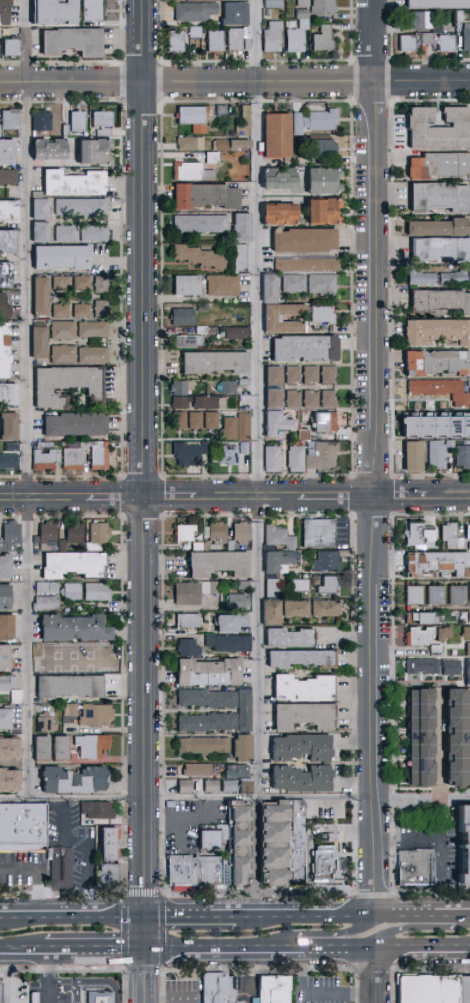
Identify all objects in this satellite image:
building: (271, 3)
building: (302, 3)
building: (435, 4)
building: (322, 6)
building: (90, 10)
building: (193, 11)
building: (2, 12)
building: (49, 12)
building: (233, 13)
building: (427, 30)
building: (296, 32)
building: (271, 36)
building: (465, 37)
building: (321, 38)
building: (233, 39)
building: (173, 40)
building: (214, 40)
building: (69, 41)
building: (405, 42)
building: (10, 46)
road: (234, 83)
building: (100, 116)
building: (190, 116)
building: (7, 117)
building: (39, 119)
building: (75, 119)
building: (312, 119)
building: (242, 120)
building: (435, 126)
building: (274, 133)
building: (188, 141)
building: (230, 143)
building: (46, 147)
building: (321, 147)
building: (90, 149)
building: (4, 150)
building: (437, 163)
building: (191, 170)
building: (7, 174)
building: (276, 176)
building: (320, 179)
building: (70, 181)
building: (204, 194)
building: (439, 195)
building: (79, 205)
building: (37, 207)
building: (7, 208)
building: (320, 208)
building: (275, 212)
building: (199, 222)
building: (239, 225)
building: (436, 225)
building: (37, 230)
building: (64, 232)
building: (92, 232)
road: (144, 236)
building: (6, 238)
building: (301, 239)
building: (438, 247)
building: (58, 255)
building: (201, 256)
building: (238, 256)
building: (305, 264)
building: (4, 273)
building: (468, 274)
building: (451, 275)
building: (419, 277)
building: (59, 281)
building: (78, 281)
building: (99, 282)
building: (292, 282)
building: (184, 283)
building: (221, 283)
building: (320, 283)
building: (267, 286)
building: (38, 294)
building: (440, 298)
building: (2, 306)
building: (99, 306)
building: (79, 308)
building: (59, 309)
building: (321, 313)
building: (180, 315)
building: (270, 316)
building: (61, 328)
building: (91, 328)
building: (436, 329)
building: (235, 331)
building: (36, 340)
building: (186, 340)
building: (303, 346)
building: (2, 348)
building: (61, 352)
building: (91, 354)
building: (212, 360)
building: (435, 360)
building: (291, 373)
building: (318, 373)
building: (271, 374)
building: (64, 383)
building: (180, 386)
building: (439, 389)
building: (6, 392)
building: (469, 393)
building: (271, 397)
building: (326, 397)
building: (291, 398)
building: (309, 398)
road: (261, 399)
road: (376, 399)
road: (26, 400)
building: (180, 401)
building: (205, 401)
building: (186, 419)
building: (209, 419)
building: (323, 420)
building: (274, 421)
building: (72, 422)
building: (435, 424)
building: (7, 425)
building: (242, 425)
building: (228, 427)
building: (242, 446)
building: (185, 452)
building: (435, 453)
building: (96, 454)
building: (227, 454)
building: (320, 454)
building: (410, 454)
building: (9, 455)
building: (462, 455)
building: (270, 457)
building: (294, 457)
building: (55, 458)
road: (317, 497)
road: (59, 498)
road: (119, 502)
building: (240, 529)
building: (467, 530)
building: (72, 531)
building: (97, 531)
building: (183, 531)
building: (317, 531)
building: (417, 532)
building: (44, 533)
building: (447, 533)
building: (8, 535)
building: (277, 535)
building: (275, 559)
building: (325, 560)
building: (436, 561)
building: (216, 562)
building: (4, 563)
building: (71, 563)
building: (328, 583)
building: (298, 584)
building: (45, 586)
building: (69, 590)
building: (94, 590)
building: (469, 590)
building: (185, 592)
building: (413, 593)
building: (434, 593)
building: (456, 593)
building: (3, 595)
building: (236, 600)
building: (43, 601)
building: (295, 607)
building: (323, 607)
building: (269, 611)
building: (418, 616)
building: (239, 618)
building: (185, 619)
building: (222, 622)
building: (5, 626)
building: (71, 627)
building: (465, 632)
building: (419, 635)
building: (287, 636)
building: (226, 641)
building: (185, 646)
building: (467, 647)
building: (93, 654)
building: (3, 656)
building: (298, 657)
road: (145, 658)
building: (421, 664)
building: (450, 666)
building: (466, 670)
building: (205, 671)
building: (3, 682)
building: (67, 685)
building: (299, 687)
building: (205, 697)
building: (243, 708)
building: (94, 713)
building: (301, 714)
building: (3, 716)
building: (205, 721)
building: (42, 723)
building: (417, 735)
building: (455, 736)
building: (89, 744)
building: (202, 744)
road: (442, 745)
building: (38, 746)
building: (57, 746)
building: (240, 746)
building: (299, 746)
building: (7, 747)
building: (194, 768)
building: (235, 770)
building: (298, 777)
building: (6, 778)
building: (71, 778)
building: (182, 785)
building: (209, 785)
building: (227, 785)
building: (242, 785)
road: (423, 796)
road: (74, 799)
road: (262, 799)
building: (94, 808)
road: (148, 810)
building: (234, 810)
road: (192, 821)
building: (23, 827)
building: (235, 832)
building: (210, 840)
building: (279, 840)
road: (444, 841)
building: (465, 845)
building: (109, 846)
road: (87, 851)
road: (377, 856)
building: (235, 864)
building: (323, 864)
building: (183, 866)
building: (63, 868)
road: (150, 869)
building: (416, 869)
building: (210, 873)
road: (38, 874)
building: (109, 875)
road: (352, 914)
road: (193, 917)
road: (44, 918)
road: (119, 918)
road: (7, 923)
road: (420, 928)
road: (150, 935)
road: (325, 935)
road: (310, 950)
road: (97, 952)
road: (22, 953)
road: (381, 976)
road: (150, 977)
road: (11, 978)
road: (45, 978)
road: (58, 981)
road: (92, 981)
building: (207, 987)
building: (227, 989)
building: (274, 989)
building: (429, 989)
building: (465, 990)
building: (2, 993)
road: (317, 996)
building: (102, 997)
building: (36, 998)

